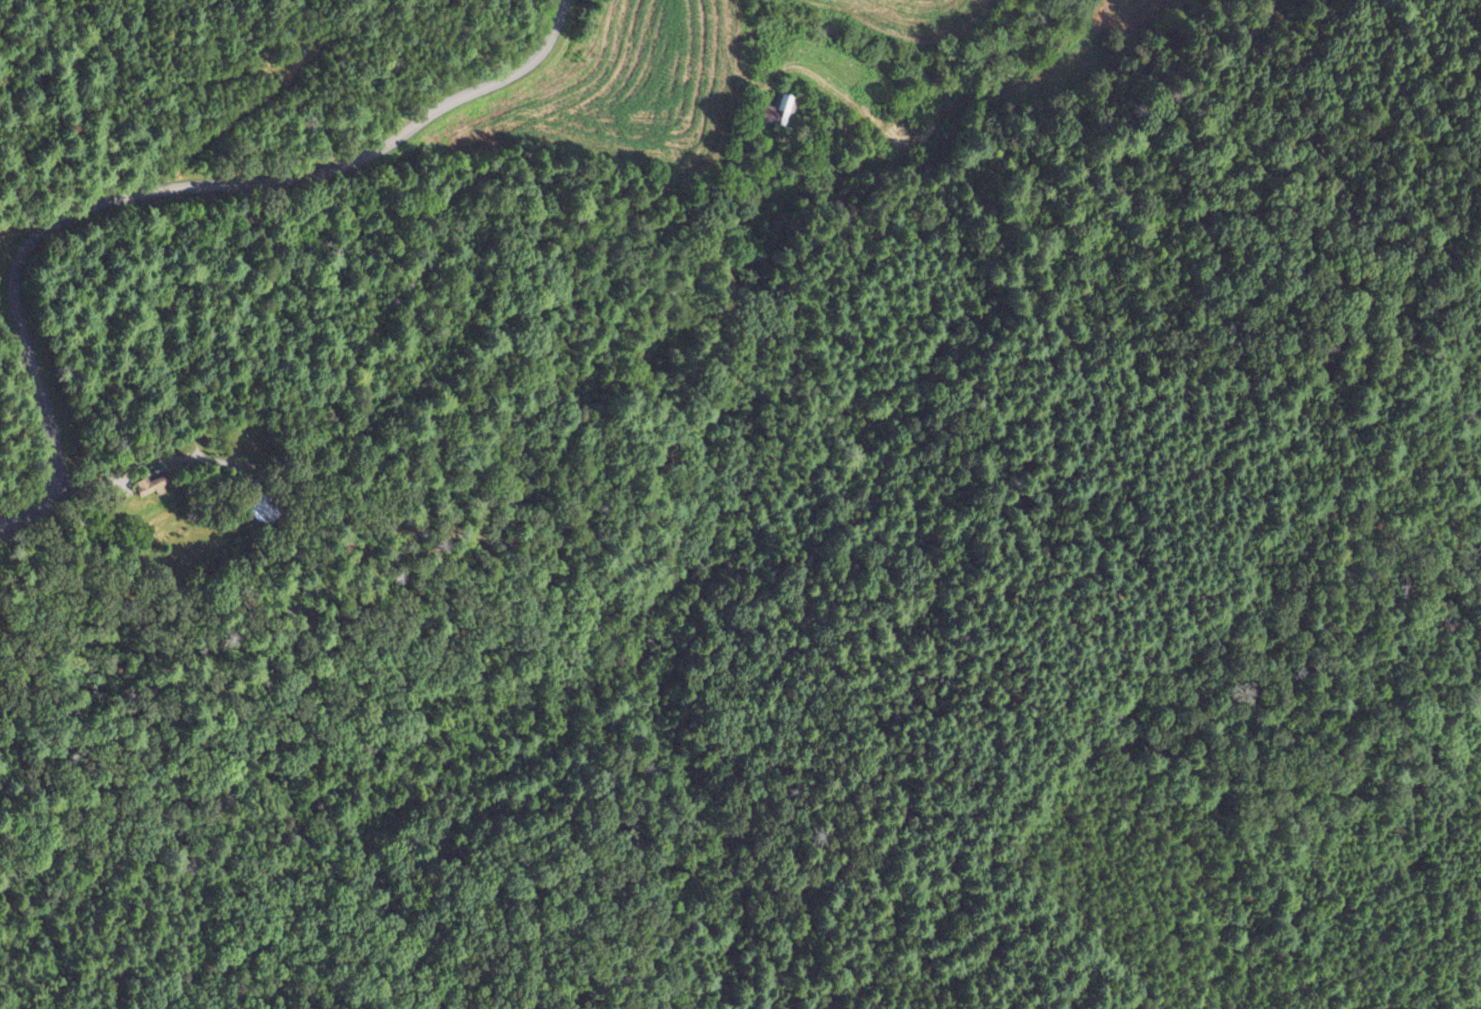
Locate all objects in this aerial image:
building: (783, 102)
road: (166, 187)
building: (264, 508)
road: (317, 543)

